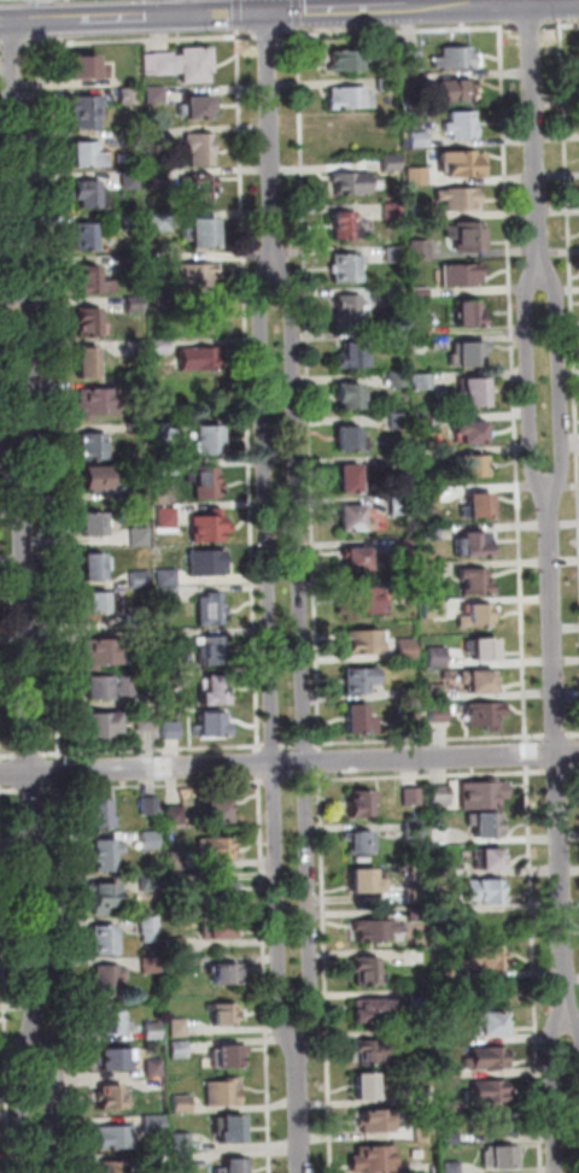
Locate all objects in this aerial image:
road: (487, 2)
road: (524, 2)
road: (194, 7)
road: (387, 8)
road: (45, 10)
road: (561, 10)
traffic signals: (269, 13)
traffic signals: (195, 16)
road: (96, 18)
road: (532, 25)
road: (561, 25)
road: (399, 31)
road: (269, 35)
road: (141, 40)
road: (12, 45)
building: (457, 58)
building: (361, 59)
building: (414, 61)
building: (182, 63)
building: (87, 65)
building: (415, 83)
building: (387, 84)
building: (456, 89)
building: (156, 94)
building: (129, 96)
building: (350, 98)
building: (197, 106)
building: (407, 107)
building: (87, 111)
building: (462, 125)
building: (158, 135)
building: (130, 139)
road: (271, 140)
building: (420, 141)
road: (537, 143)
building: (200, 148)
building: (88, 154)
road: (16, 160)
building: (391, 163)
building: (464, 163)
building: (417, 177)
building: (130, 180)
building: (157, 180)
building: (351, 182)
building: (203, 187)
building: (90, 194)
building: (460, 198)
building: (393, 211)
building: (420, 213)
building: (131, 221)
building: (160, 222)
building: (346, 225)
building: (203, 233)
building: (86, 235)
building: (466, 235)
building: (419, 250)
building: (393, 254)
building: (159, 260)
building: (134, 262)
building: (346, 269)
building: (461, 274)
road: (571, 275)
building: (194, 276)
building: (94, 281)
building: (420, 293)
building: (396, 297)
building: (158, 301)
building: (134, 304)
building: (350, 311)
building: (469, 312)
building: (205, 317)
building: (89, 322)
building: (421, 329)
building: (394, 339)
building: (160, 346)
building: (136, 348)
building: (467, 353)
building: (352, 356)
building: (198, 358)
building: (89, 360)
building: (397, 379)
road: (530, 380)
building: (422, 381)
road: (560, 381)
road: (513, 386)
building: (140, 389)
road: (309, 392)
building: (474, 393)
road: (248, 394)
building: (349, 394)
road: (7, 398)
road: (34, 398)
road: (52, 401)
building: (96, 401)
building: (398, 421)
building: (423, 421)
building: (139, 429)
building: (469, 432)
building: (166, 434)
building: (351, 438)
building: (210, 440)
building: (93, 446)
road: (280, 452)
building: (400, 462)
building: (427, 462)
building: (469, 465)
building: (168, 468)
building: (96, 476)
building: (350, 477)
building: (207, 482)
building: (139, 492)
building: (429, 494)
building: (399, 505)
building: (478, 506)
building: (429, 510)
building: (165, 518)
building: (355, 518)
building: (94, 523)
building: (209, 527)
building: (429, 532)
building: (140, 536)
building: (472, 544)
building: (405, 547)
building: (357, 556)
building: (206, 562)
building: (96, 565)
building: (432, 569)
building: (166, 576)
building: (139, 579)
building: (474, 581)
building: (405, 588)
building: (169, 596)
building: (359, 600)
building: (101, 603)
building: (211, 609)
building: (434, 609)
building: (476, 616)
building: (135, 620)
building: (144, 639)
building: (169, 639)
building: (367, 641)
building: (482, 647)
building: (405, 649)
building: (212, 650)
building: (104, 652)
road: (303, 652)
road: (270, 655)
building: (437, 657)
building: (358, 679)
building: (478, 680)
building: (170, 681)
building: (127, 686)
building: (99, 687)
building: (215, 690)
building: (437, 693)
building: (438, 714)
building: (486, 714)
building: (357, 719)
building: (145, 720)
building: (103, 725)
building: (212, 725)
building: (171, 729)
road: (573, 734)
road: (557, 735)
road: (429, 739)
road: (305, 744)
road: (289, 745)
road: (273, 746)
road: (153, 750)
road: (558, 752)
road: (526, 753)
road: (10, 755)
road: (30, 755)
road: (0, 759)
road: (321, 762)
road: (288, 763)
road: (259, 764)
road: (30, 768)
road: (574, 770)
road: (60, 772)
road: (558, 772)
road: (0, 774)
road: (431, 775)
road: (289, 778)
road: (305, 778)
road: (274, 780)
road: (153, 786)
road: (29, 790)
road: (10, 791)
building: (481, 794)
building: (440, 796)
building: (411, 797)
building: (359, 803)
building: (150, 805)
building: (217, 809)
building: (100, 811)
building: (174, 814)
building: (485, 823)
building: (413, 829)
building: (441, 835)
building: (148, 840)
building: (361, 841)
building: (215, 849)
building: (106, 855)
building: (487, 857)
building: (174, 861)
building: (443, 872)
building: (364, 881)
building: (150, 882)
building: (222, 890)
building: (485, 891)
building: (415, 895)
building: (105, 896)
building: (443, 903)
building: (416, 913)
building: (218, 926)
building: (150, 928)
building: (375, 929)
building: (104, 939)
building: (176, 946)
building: (481, 958)
building: (151, 964)
building: (177, 966)
road: (533, 969)
building: (365, 970)
building: (227, 973)
road: (324, 973)
road: (265, 974)
road: (64, 978)
road: (5, 979)
building: (107, 981)
building: (374, 1010)
building: (224, 1014)
building: (110, 1022)
building: (493, 1022)
building: (179, 1027)
road: (573, 1030)
building: (153, 1031)
building: (180, 1050)
building: (372, 1051)
building: (227, 1056)
building: (486, 1057)
building: (113, 1058)
building: (154, 1068)
building: (365, 1086)
building: (489, 1090)
building: (224, 1093)
building: (111, 1097)
road: (558, 1097)
road: (22, 1102)
road: (53, 1103)
building: (182, 1104)
road: (300, 1107)
building: (376, 1120)
building: (154, 1124)
building: (501, 1124)
building: (234, 1128)
building: (117, 1137)
building: (183, 1142)
building: (499, 1156)
building: (375, 1157)
building: (156, 1161)
building: (183, 1161)
building: (236, 1166)
building: (112, 1167)

